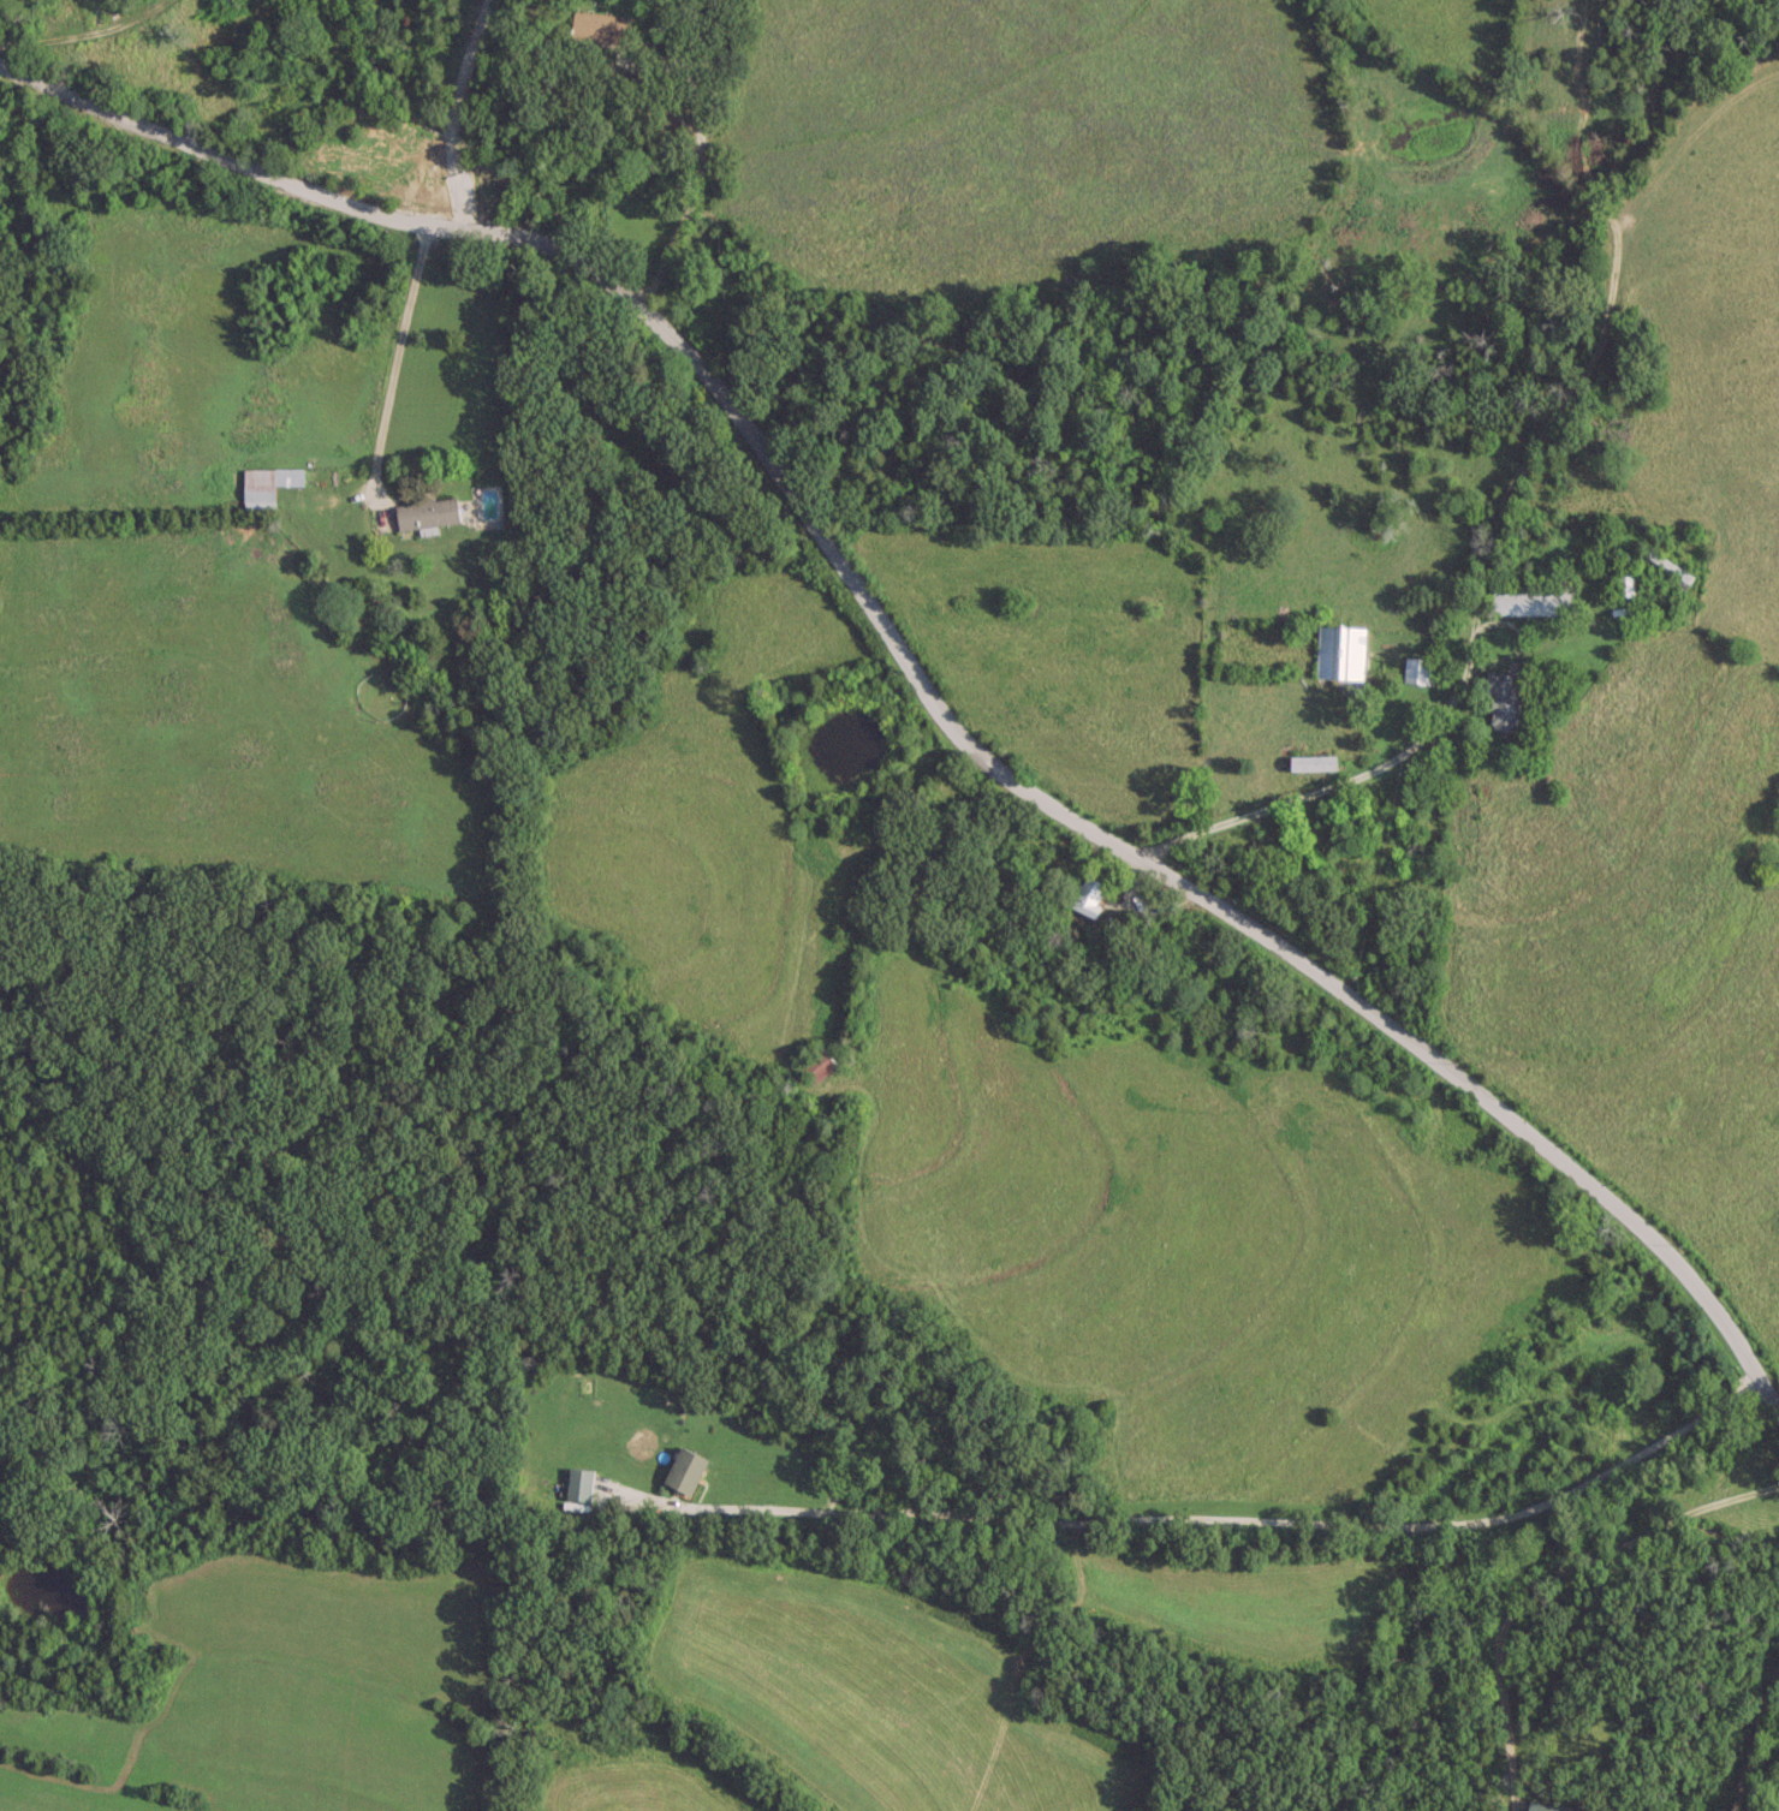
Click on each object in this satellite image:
building: (600, 25)
road: (85, 35)
road: (691, 190)
road: (395, 369)
building: (266, 482)
building: (424, 511)
building: (1623, 584)
building: (1528, 598)
building: (1338, 650)
building: (1415, 668)
road: (912, 672)
building: (1501, 696)
building: (1310, 761)
road: (1375, 765)
building: (1085, 894)
building: (815, 1064)
building: (683, 1469)
road: (1259, 1521)
road: (1565, 1577)
road: (1750, 1736)

